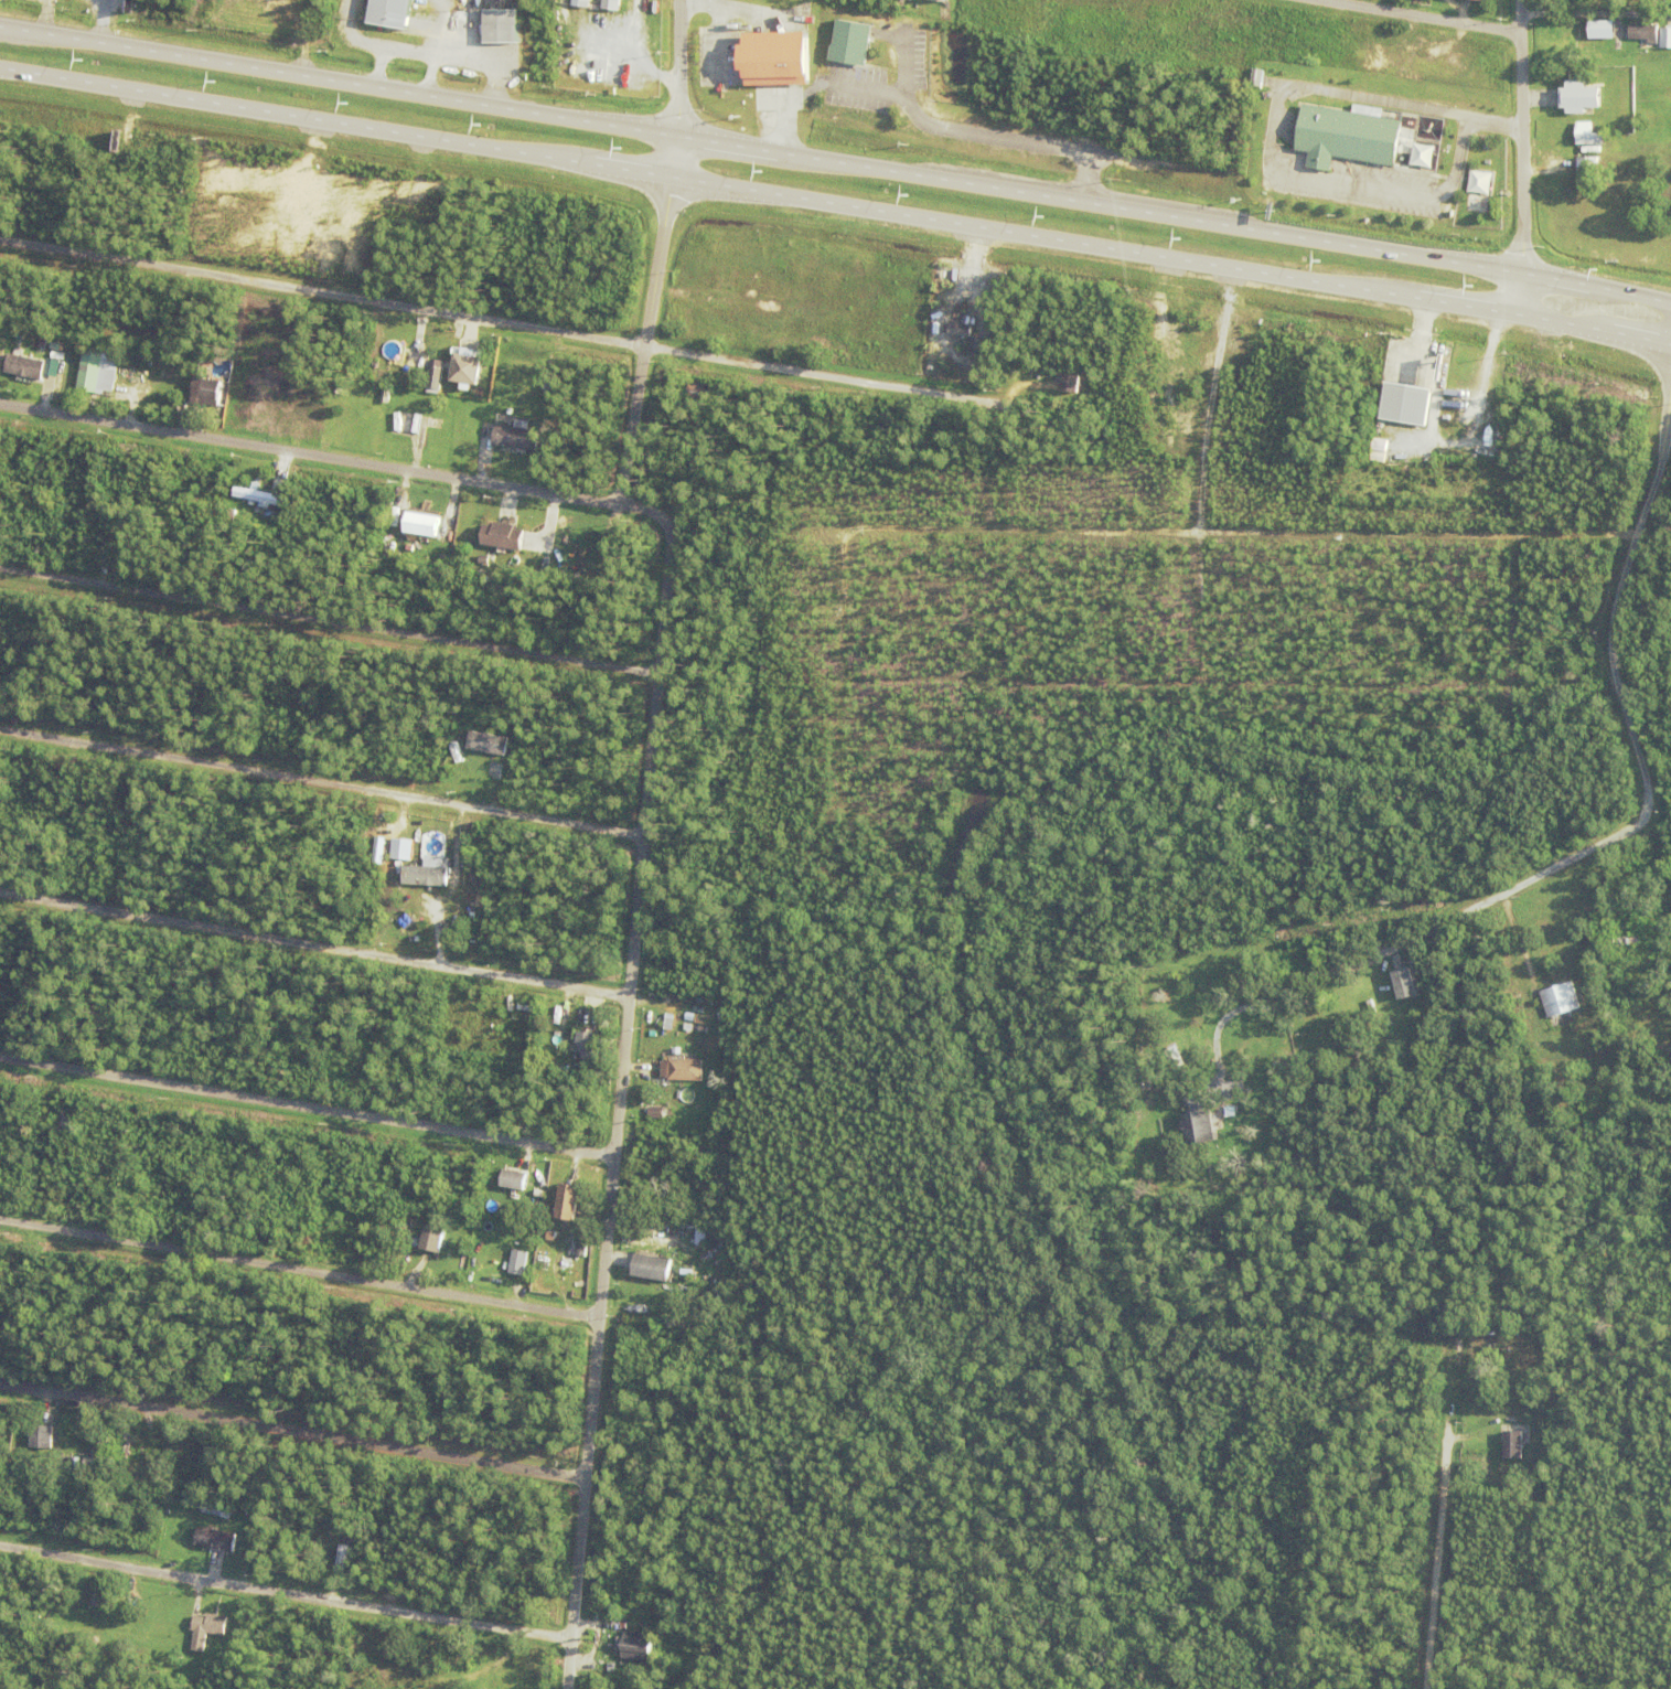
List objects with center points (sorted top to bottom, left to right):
building: (1482, 0)
building: (582, 4)
building: (613, 6)
building: (1638, 11)
building: (388, 12)
road: (1405, 19)
building: (503, 29)
building: (1599, 29)
building: (1646, 34)
building: (1665, 40)
building: (850, 41)
building: (772, 57)
building: (1255, 76)
building: (1578, 97)
building: (1428, 127)
building: (1587, 133)
building: (1348, 138)
building: (1587, 147)
building: (1422, 154)
road: (1523, 157)
road: (839, 162)
building: (1587, 172)
building: (1479, 182)
road: (835, 203)
road: (663, 254)
road: (506, 325)
building: (962, 332)
building: (41, 348)
building: (981, 349)
building: (53, 352)
building: (413, 352)
building: (438, 352)
building: (464, 365)
building: (439, 366)
building: (26, 370)
building: (93, 375)
building: (1070, 383)
building: (703, 394)
building: (213, 395)
building: (387, 396)
building: (1407, 408)
building: (441, 417)
building: (518, 441)
road: (311, 456)
building: (776, 460)
building: (71, 471)
building: (199, 484)
building: (154, 489)
building: (740, 494)
building: (261, 499)
building: (425, 528)
building: (580, 531)
building: (506, 541)
building: (572, 575)
road: (333, 621)
road: (1609, 641)
building: (299, 723)
building: (490, 747)
road: (325, 782)
building: (400, 848)
road: (1564, 867)
building: (1372, 875)
building: (430, 877)
building: (1577, 905)
building: (382, 917)
building: (1593, 917)
road: (318, 948)
building: (1503, 977)
building: (1389, 987)
building: (676, 990)
building: (1407, 991)
building: (1381, 992)
building: (1562, 1004)
building: (1180, 1007)
building: (672, 1009)
building: (588, 1040)
building: (1230, 1040)
building: (657, 1056)
building: (686, 1067)
road: (628, 1080)
road: (310, 1105)
building: (661, 1111)
building: (1198, 1125)
building: (1208, 1139)
building: (666, 1172)
building: (513, 1179)
building: (662, 1195)
building: (684, 1195)
building: (575, 1198)
building: (458, 1202)
building: (577, 1214)
building: (427, 1229)
building: (532, 1229)
building: (694, 1231)
building: (670, 1233)
building: (553, 1234)
building: (488, 1242)
building: (582, 1247)
building: (668, 1248)
building: (376, 1259)
building: (496, 1260)
building: (662, 1262)
building: (517, 1264)
building: (527, 1266)
building: (688, 1270)
road: (303, 1271)
building: (760, 1314)
building: (1425, 1327)
building: (1525, 1421)
road: (294, 1426)
building: (40, 1435)
building: (127, 1443)
building: (1514, 1443)
building: (93, 1444)
road: (1440, 1510)
building: (74, 1511)
building: (223, 1511)
building: (205, 1514)
building: (258, 1516)
building: (216, 1538)
building: (331, 1560)
building: (321, 1578)
building: (540, 1588)
road: (288, 1594)
building: (96, 1600)
building: (188, 1610)
building: (208, 1628)
building: (639, 1646)
building: (604, 1651)
building: (658, 1669)

